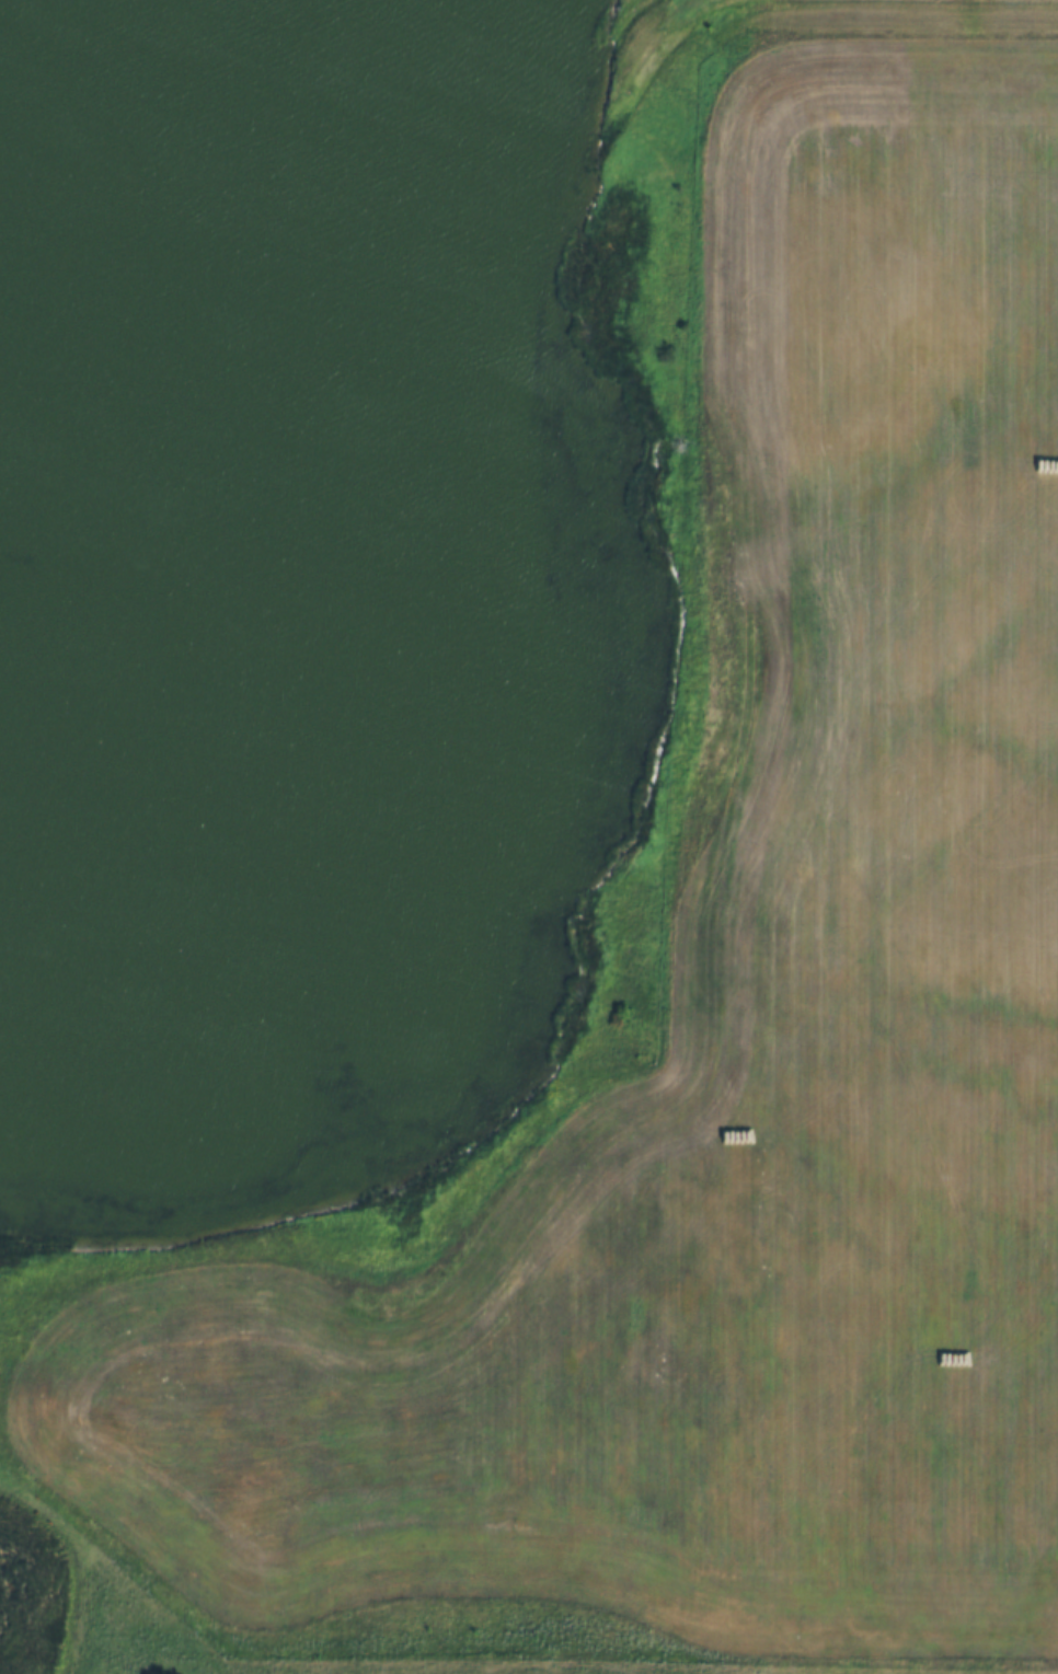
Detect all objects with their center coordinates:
road: (634, 84)

